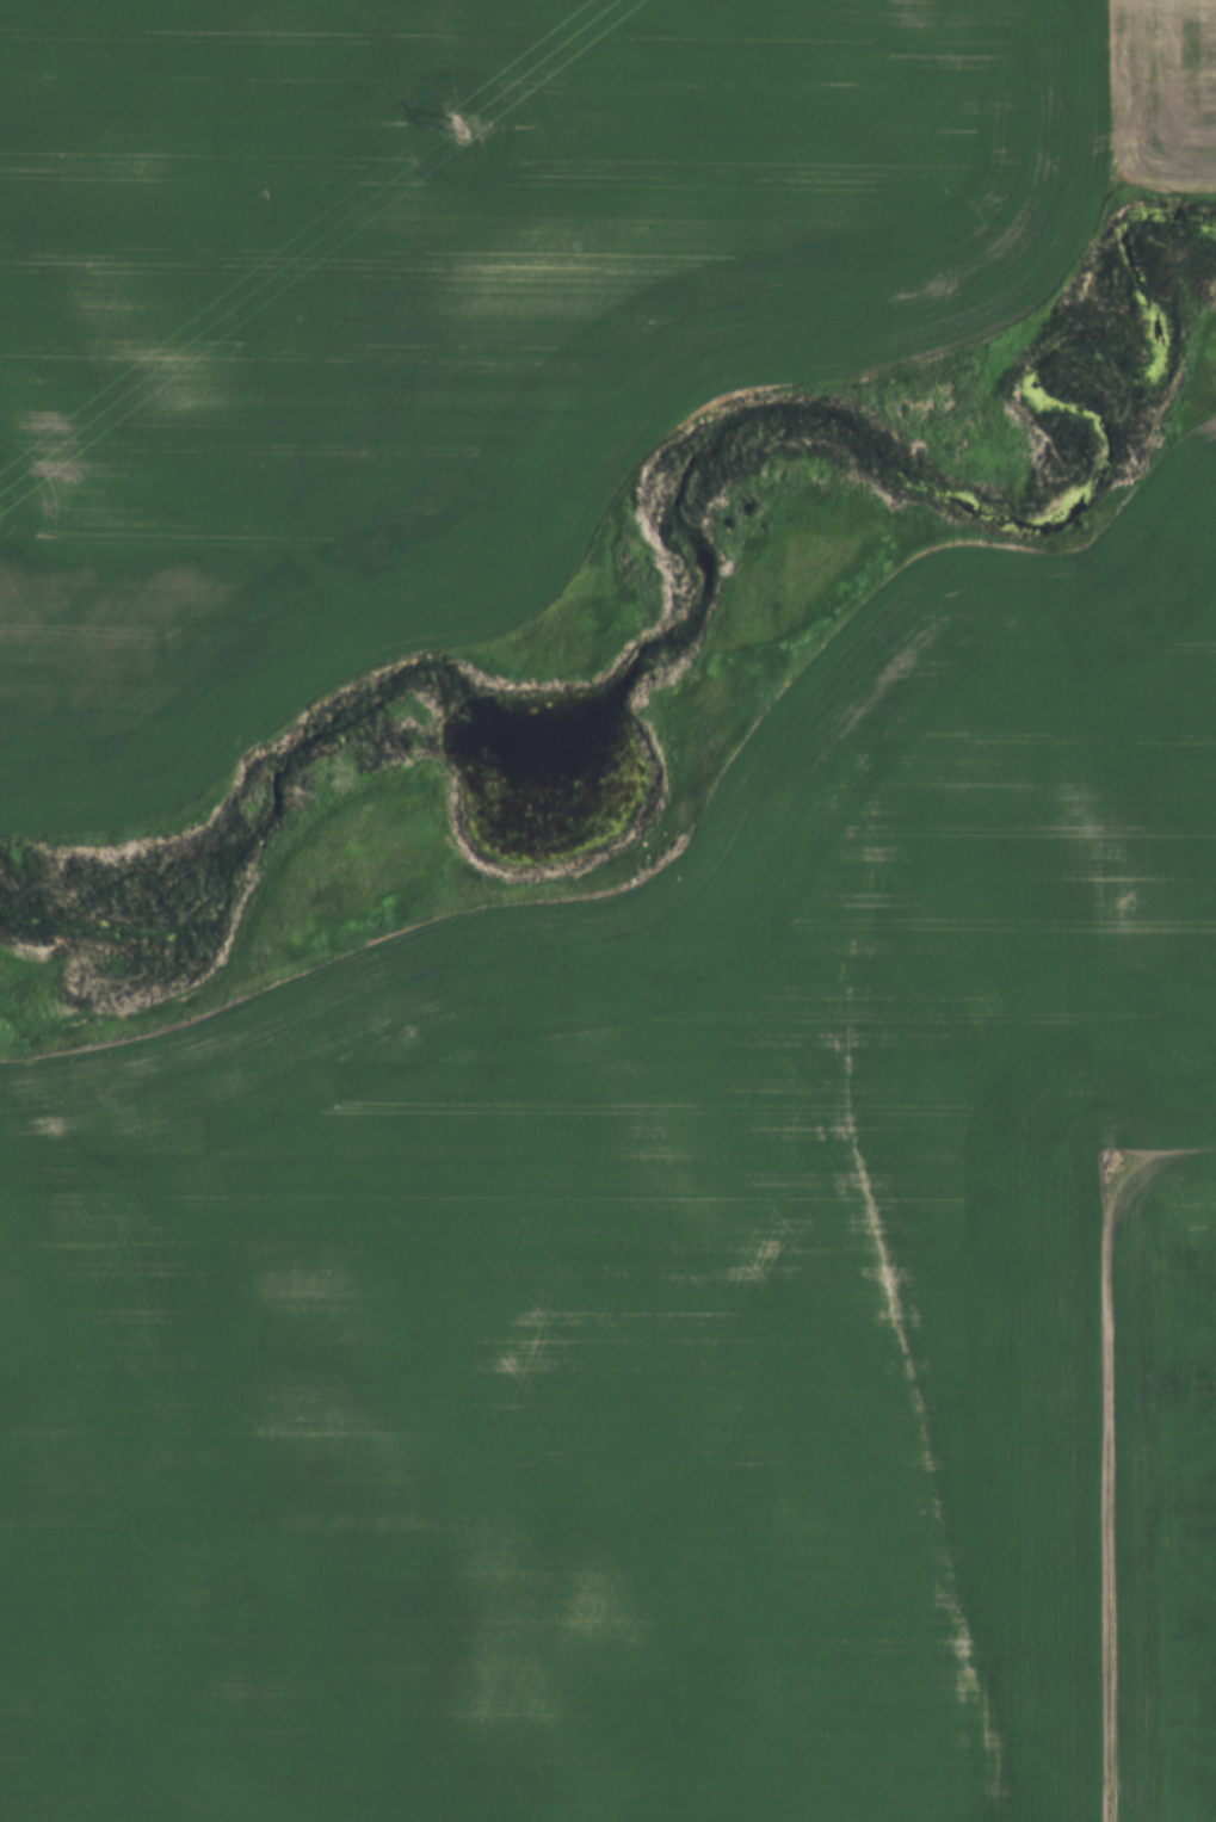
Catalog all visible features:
power tower: (457, 126)
road: (1106, 1452)

